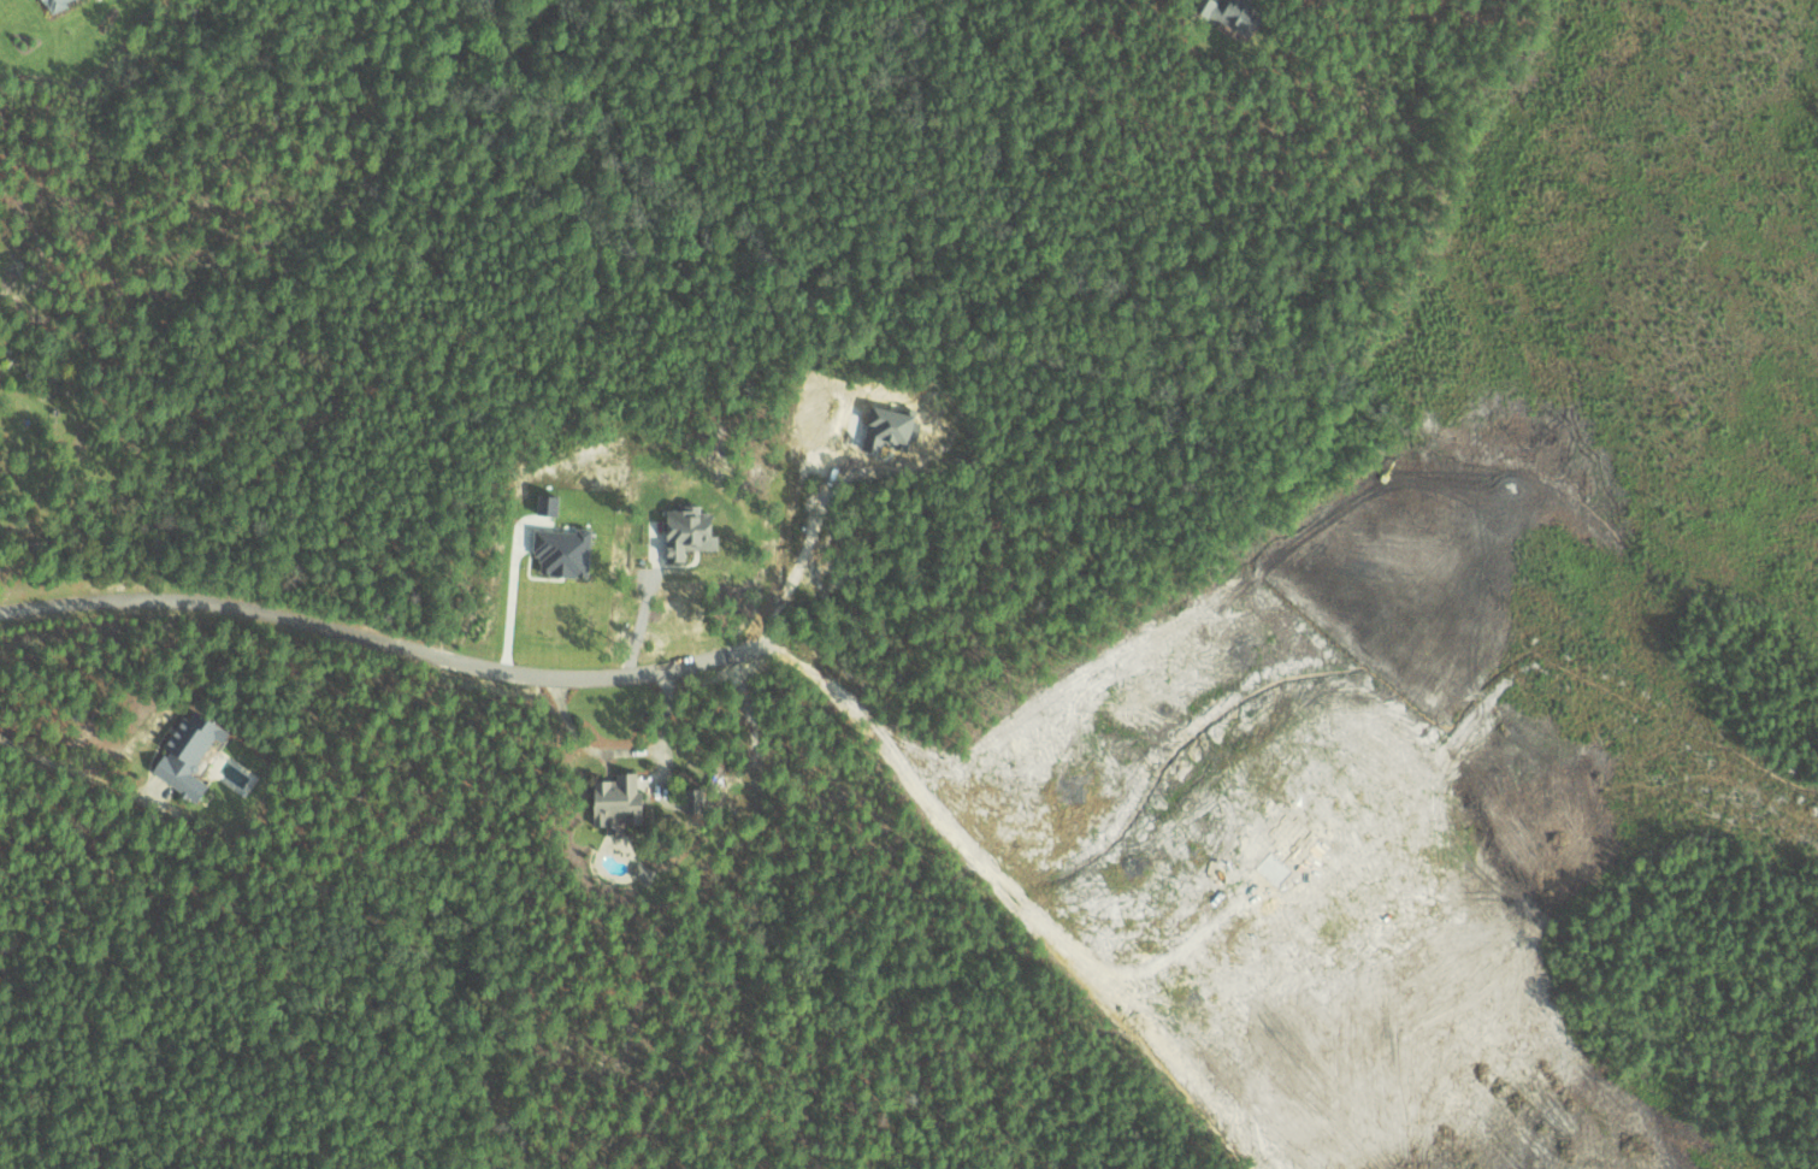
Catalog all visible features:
building: (53, 4)
building: (547, 503)
building: (686, 531)
building: (562, 550)
road: (214, 601)
road: (596, 678)
road: (620, 752)
building: (185, 754)
road: (69, 769)
building: (615, 798)

